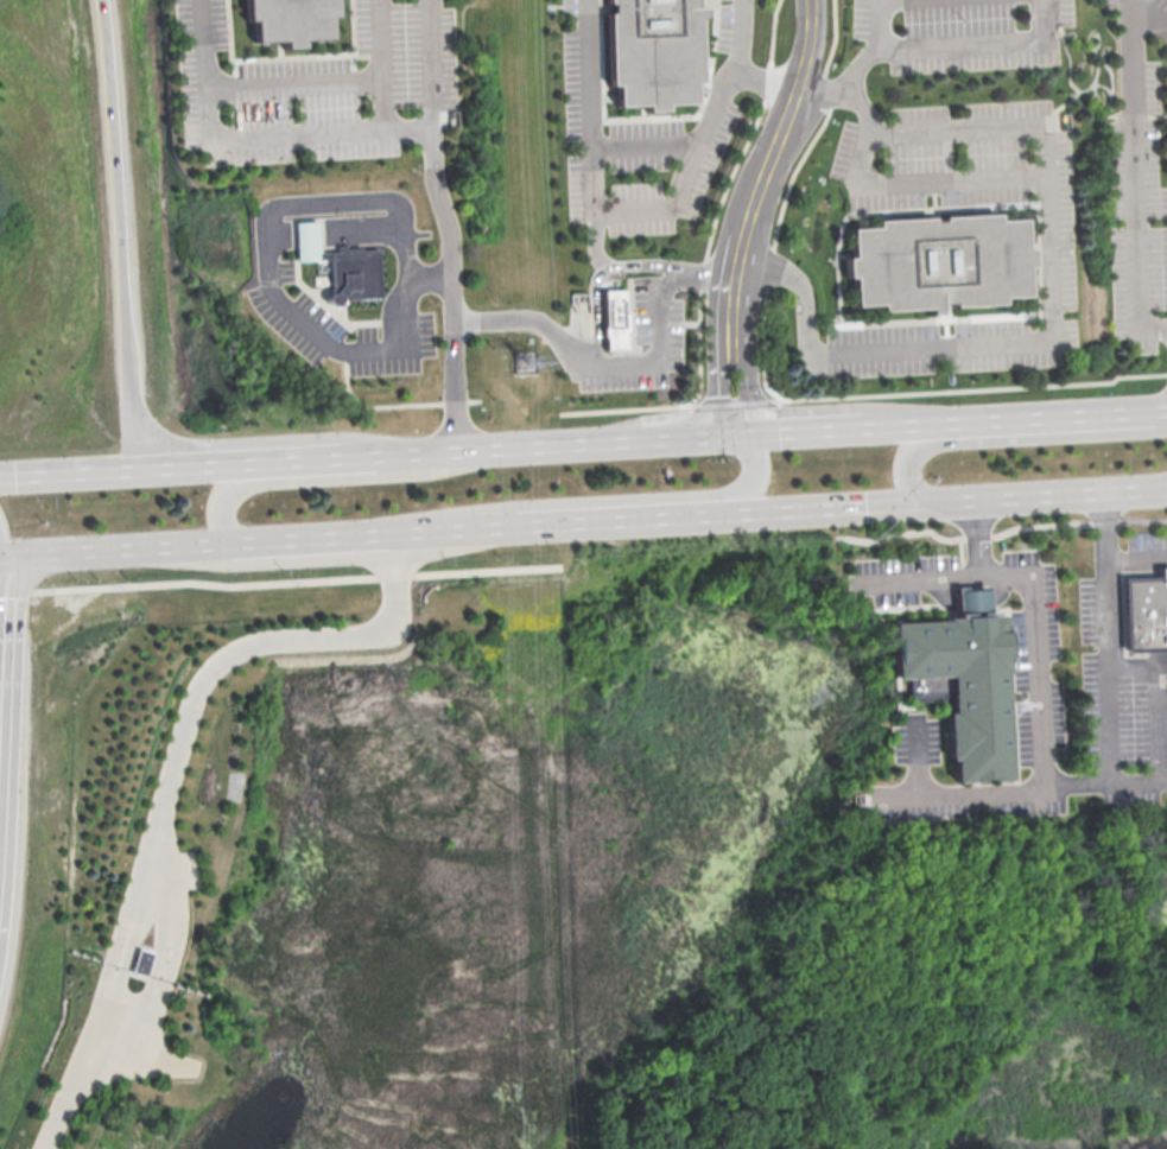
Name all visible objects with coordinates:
road: (1152, 13)
building: (278, 20)
road: (1092, 33)
road: (954, 44)
building: (642, 52)
road: (1079, 64)
road: (379, 65)
road: (427, 65)
road: (1070, 78)
road: (290, 82)
road: (763, 82)
road: (843, 83)
road: (1105, 85)
road: (1096, 99)
road: (1061, 104)
road: (1102, 110)
road: (404, 132)
road: (221, 140)
road: (643, 148)
road: (768, 164)
parking lot: (1140, 174)
road: (1135, 177)
road: (919, 183)
road: (636, 205)
road: (122, 233)
road: (592, 240)
road: (267, 262)
building: (930, 265)
building: (338, 271)
road: (597, 273)
road: (712, 273)
road: (431, 275)
road: (454, 287)
road: (1053, 307)
road: (534, 318)
building: (615, 318)
parking lot: (651, 337)
road: (664, 343)
power tower: (527, 366)
road: (749, 379)
road: (718, 380)
road: (864, 394)
road: (1160, 408)
road: (1116, 411)
road: (1046, 414)
road: (972, 419)
road: (899, 423)
road: (810, 429)
road: (738, 432)
traffic signals: (754, 432)
traffic signals: (723, 433)
road: (1011, 438)
road: (539, 443)
road: (306, 457)
road: (196, 464)
road: (69, 471)
road: (317, 478)
road: (1046, 496)
road: (623, 499)
traffic signals: (926, 503)
road: (826, 509)
road: (695, 516)
road: (584, 523)
road: (449, 531)
road: (998, 533)
road: (5, 539)
road: (312, 539)
road: (116, 550)
traffic signals: (11, 557)
road: (1136, 557)
road: (918, 576)
road: (285, 580)
building: (1143, 614)
road: (1035, 615)
road: (1108, 637)
road: (269, 640)
road: (5, 667)
building: (953, 688)
road: (1158, 698)
road: (918, 756)
road: (1021, 789)
road: (138, 880)
road: (175, 889)
road: (138, 909)
road: (166, 927)
building: (141, 960)
road: (104, 1024)
road: (132, 1027)
road: (85, 1037)
road: (126, 1056)
road: (165, 1058)
road: (47, 1130)

